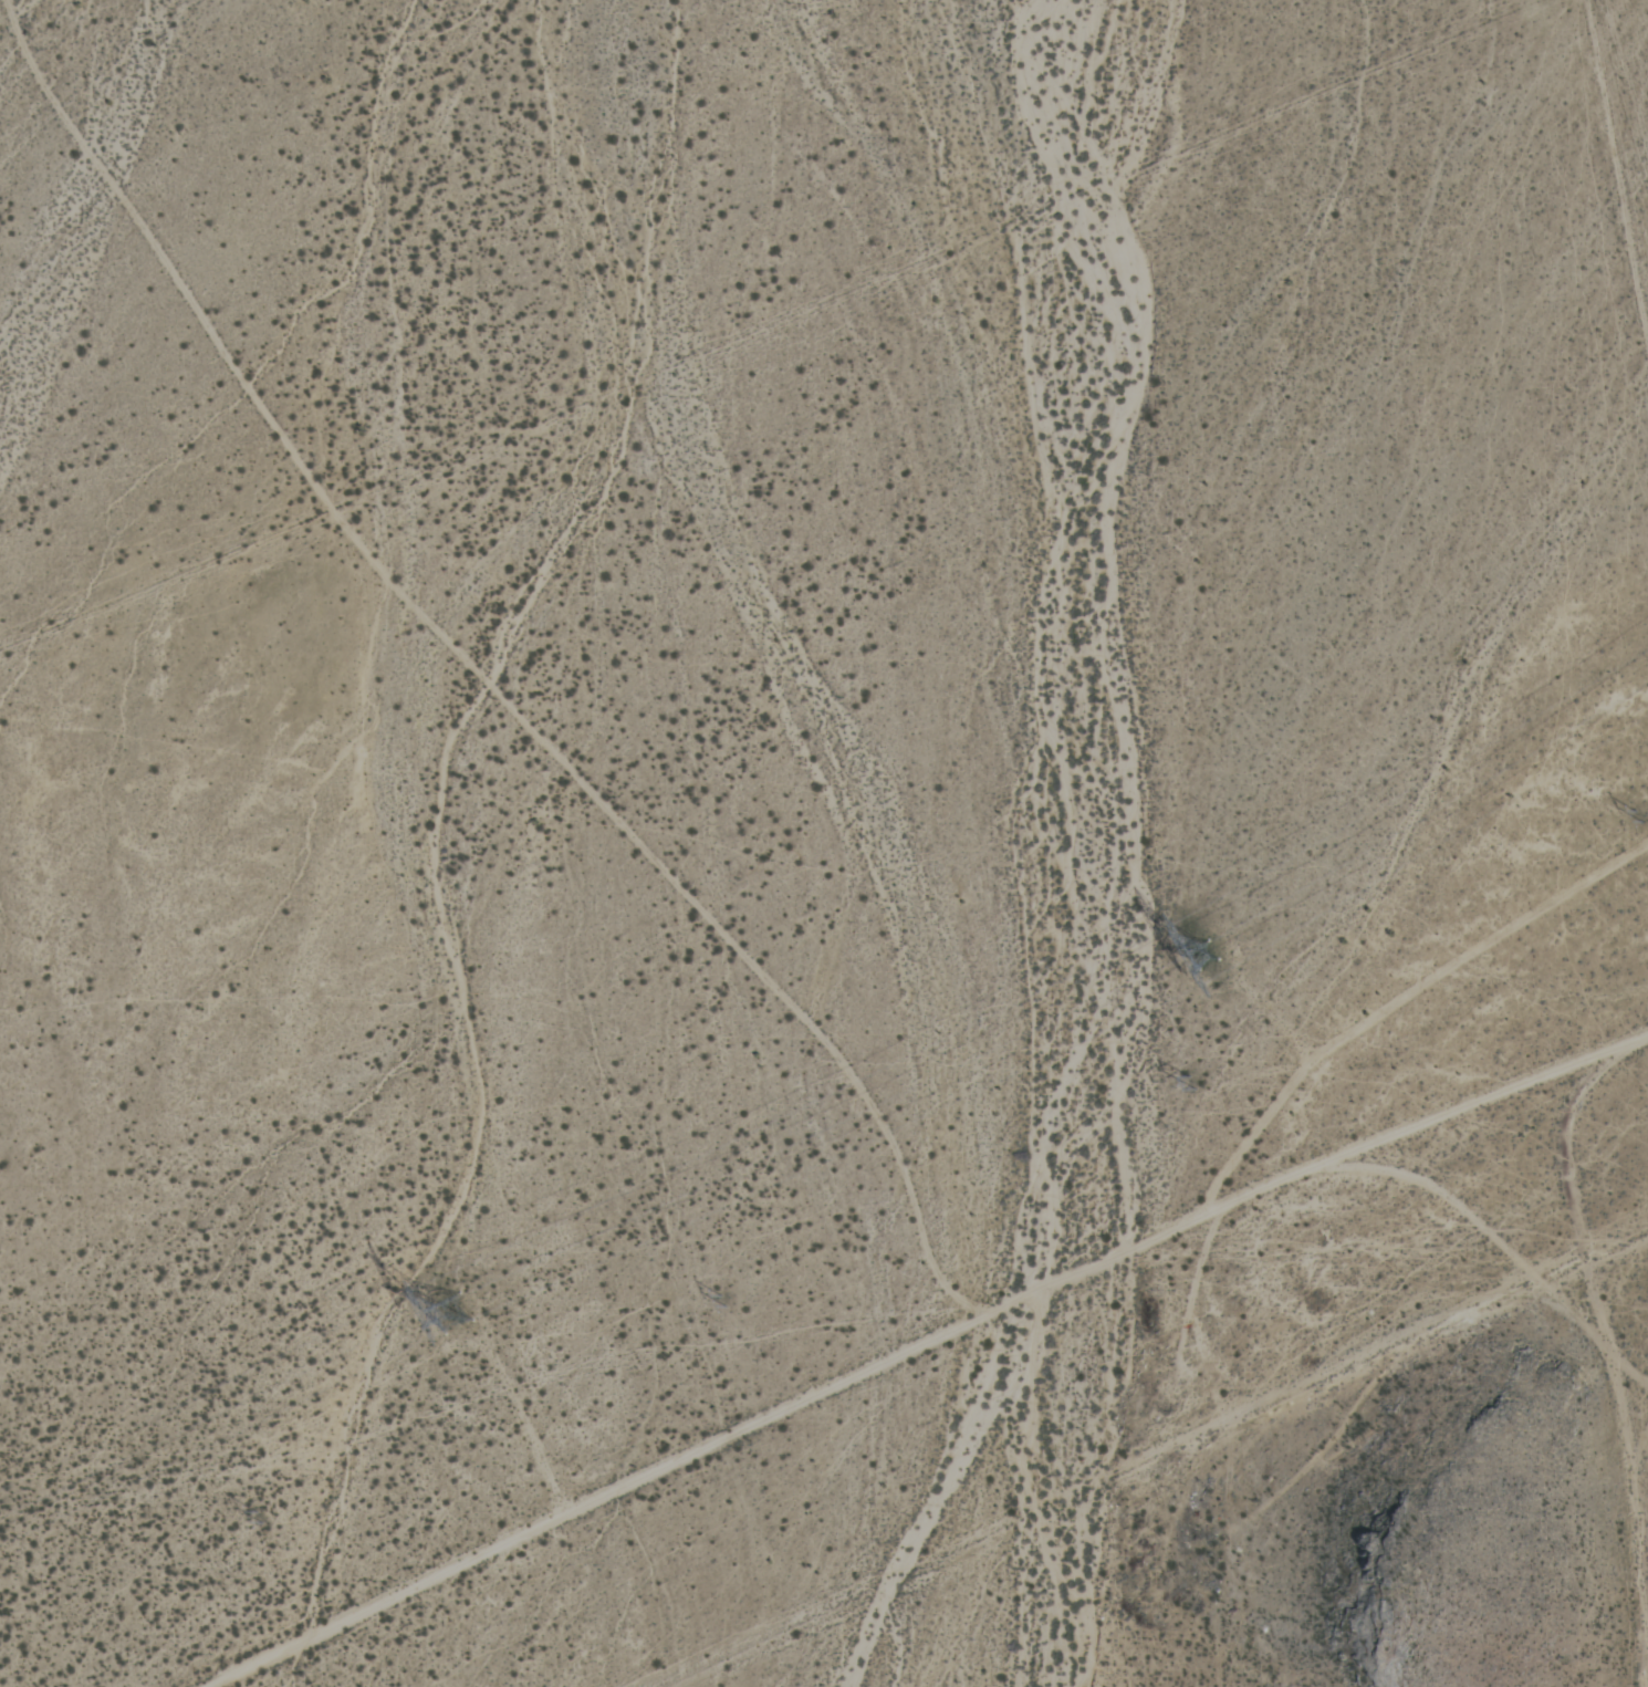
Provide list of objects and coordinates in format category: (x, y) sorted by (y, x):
road: (480, 675)
power tower: (1644, 812)
power tower: (1189, 956)
power tower: (1187, 1082)
road: (1488, 1096)
road: (1565, 1138)
road: (1162, 1246)
power tower: (723, 1300)
power tower: (456, 1311)
road: (596, 1501)
power tower: (257, 1511)

